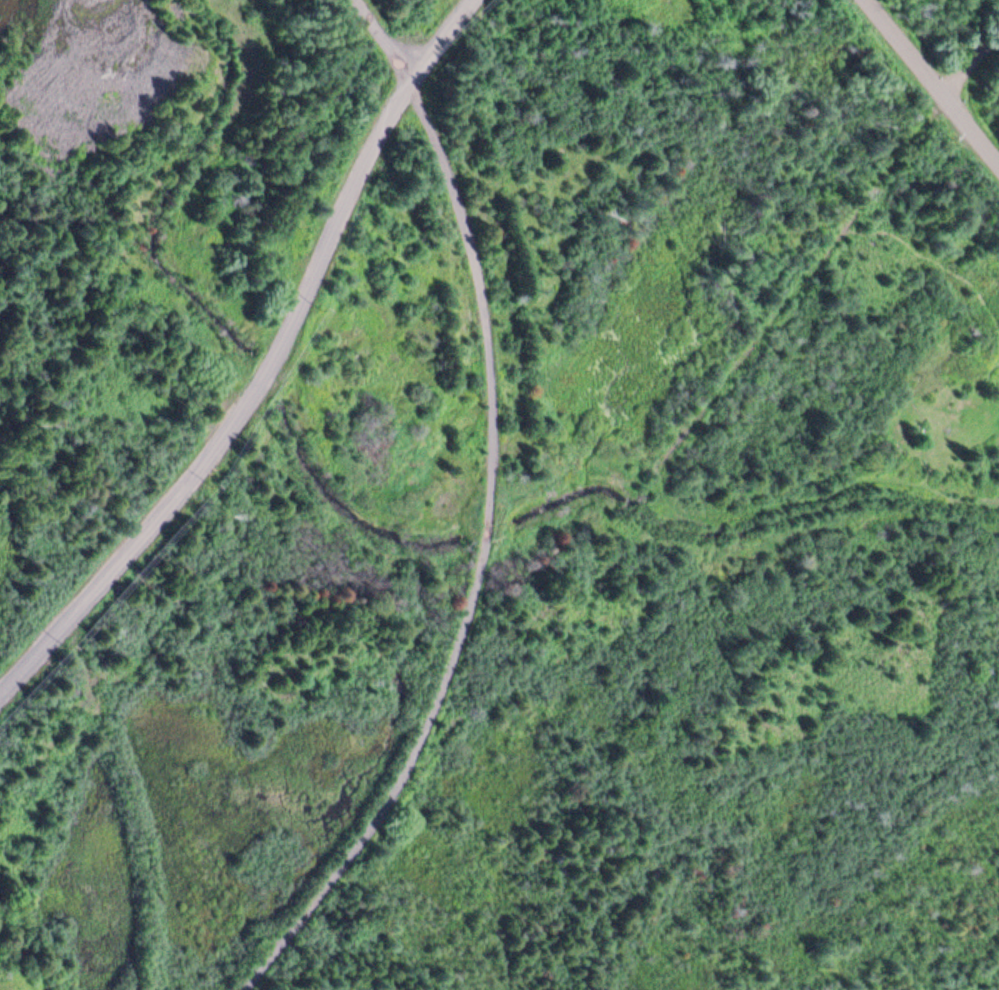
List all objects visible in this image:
road: (930, 84)
road: (265, 368)
road: (493, 515)

